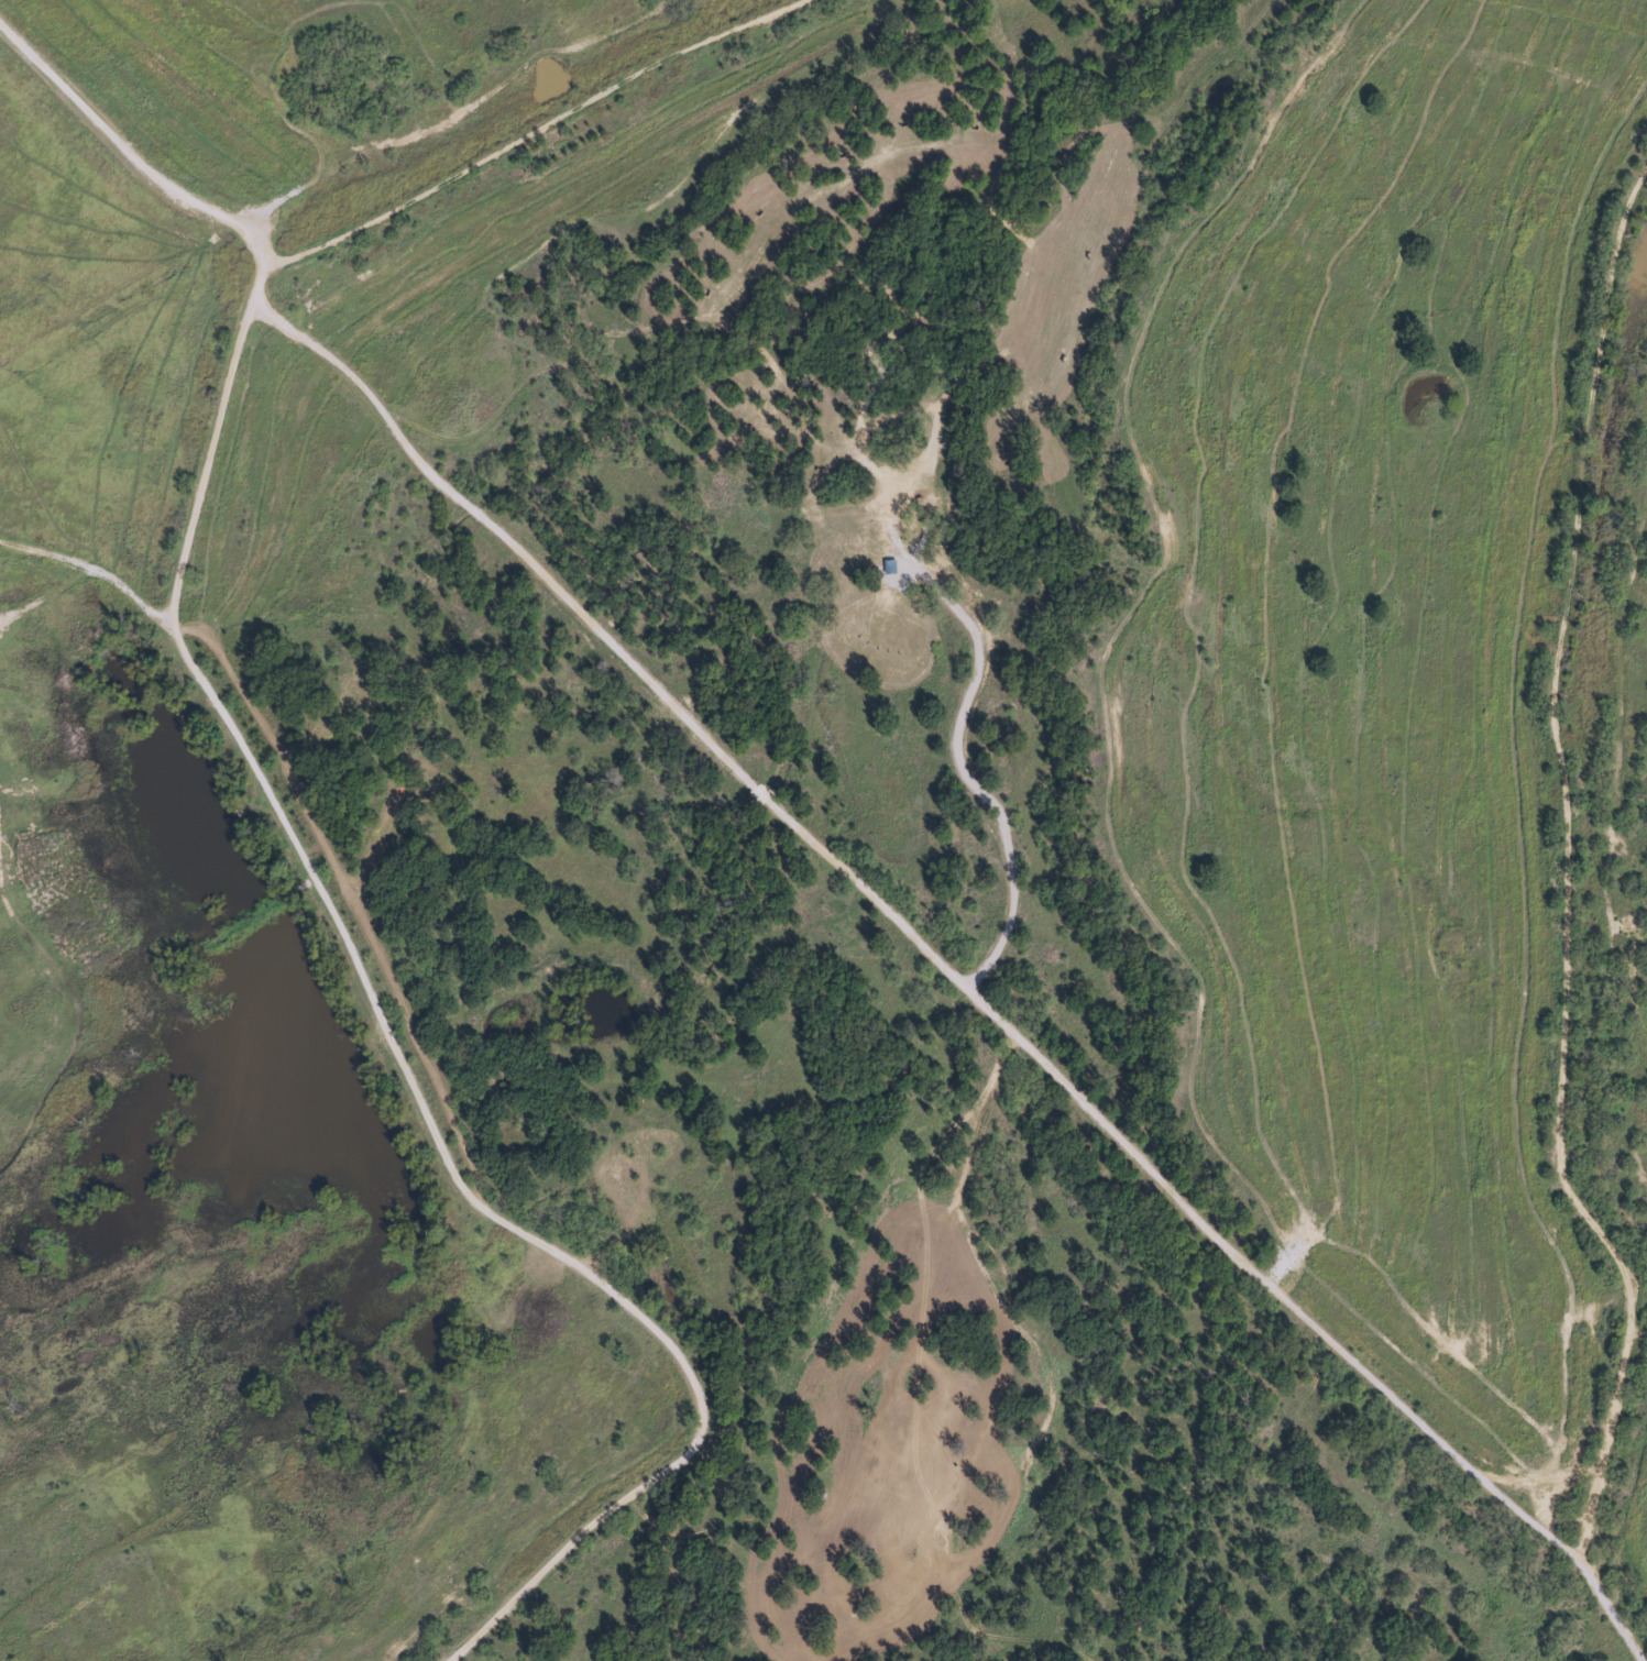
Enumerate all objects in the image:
road: (42, 147)
road: (129, 168)
road: (108, 375)
road: (353, 411)
road: (262, 787)
road: (1580, 926)

